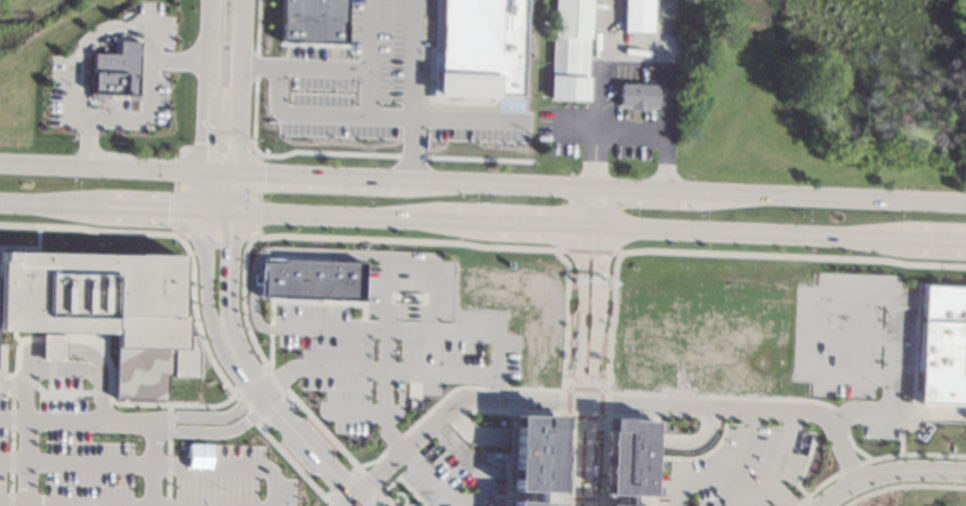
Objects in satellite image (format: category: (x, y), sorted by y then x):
building: (636, 16)
building: (312, 21)
road: (257, 27)
road: (150, 32)
building: (477, 49)
building: (569, 50)
road: (664, 53)
road: (71, 60)
road: (179, 60)
road: (255, 65)
road: (338, 68)
building: (115, 71)
parking lot: (159, 79)
parking lot: (376, 82)
road: (207, 85)
road: (412, 89)
road: (369, 92)
building: (637, 95)
road: (237, 105)
road: (381, 116)
road: (147, 118)
road: (574, 125)
road: (631, 127)
road: (87, 142)
traffic signals: (205, 142)
road: (220, 148)
road: (182, 152)
road: (594, 152)
road: (288, 153)
road: (410, 155)
road: (477, 158)
road: (101, 168)
traffic signals: (264, 174)
road: (589, 182)
road: (598, 182)
road: (584, 186)
road: (203, 190)
road: (257, 191)
road: (174, 193)
road: (49, 203)
road: (585, 205)
road: (602, 206)
road: (150, 207)
traffic signals: (167, 208)
road: (217, 209)
road: (336, 214)
road: (462, 218)
road: (534, 222)
road: (593, 224)
road: (88, 228)
road: (755, 231)
road: (214, 235)
road: (403, 239)
road: (937, 239)
traffic signals: (230, 244)
road: (587, 250)
road: (274, 252)
road: (793, 256)
road: (184, 267)
building: (311, 279)
road: (228, 291)
road: (821, 293)
road: (429, 294)
road: (206, 295)
road: (243, 298)
road: (324, 302)
building: (104, 310)
road: (195, 314)
road: (565, 316)
road: (362, 317)
road: (610, 320)
road: (191, 322)
road: (270, 328)
road: (408, 332)
road: (847, 334)
road: (52, 338)
parking lot: (394, 339)
road: (384, 341)
parking lot: (856, 343)
building: (942, 346)
building: (51, 347)
road: (51, 347)
road: (65, 349)
road: (270, 350)
road: (15, 353)
building: (1, 360)
road: (578, 365)
road: (592, 365)
road: (76, 369)
road: (50, 370)
road: (395, 372)
road: (1, 376)
road: (25, 378)
road: (250, 380)
road: (276, 380)
parking lot: (66, 383)
road: (50, 385)
road: (12, 386)
road: (496, 387)
road: (497, 387)
road: (538, 389)
building: (224, 390)
road: (60, 393)
road: (61, 393)
road: (100, 393)
road: (77, 394)
road: (282, 395)
road: (717, 396)
road: (399, 398)
road: (438, 400)
road: (12, 403)
road: (128, 403)
building: (293, 403)
road: (640, 404)
road: (45, 406)
road: (249, 407)
road: (352, 410)
road: (912, 411)
road: (844, 414)
road: (600, 416)
road: (11, 419)
road: (12, 419)
road: (839, 419)
road: (89, 420)
road: (169, 421)
road: (157, 425)
road: (323, 429)
road: (476, 434)
road: (26, 435)
road: (393, 438)
road: (300, 439)
road: (691, 439)
road: (11, 440)
road: (394, 441)
road: (168, 446)
road: (855, 448)
road: (913, 454)
building: (536, 456)
building: (627, 458)
road: (373, 460)
road: (561, 460)
road: (602, 460)
road: (10, 461)
road: (291, 462)
road: (151, 464)
road: (781, 464)
road: (153, 465)
road: (168, 465)
parking lot: (738, 466)
parking lot: (124, 467)
road: (849, 468)
road: (719, 469)
road: (376, 471)
road: (887, 471)
road: (354, 473)
parking lot: (457, 474)
road: (10, 482)
road: (903, 485)
road: (817, 486)
road: (167, 490)
road: (777, 495)
road: (383, 498)
road: (483, 498)
road: (580, 498)
road: (10, 499)
road: (345, 500)
road: (12, 503)
road: (69, 504)
road: (797, 504)
building: (604, 505)

